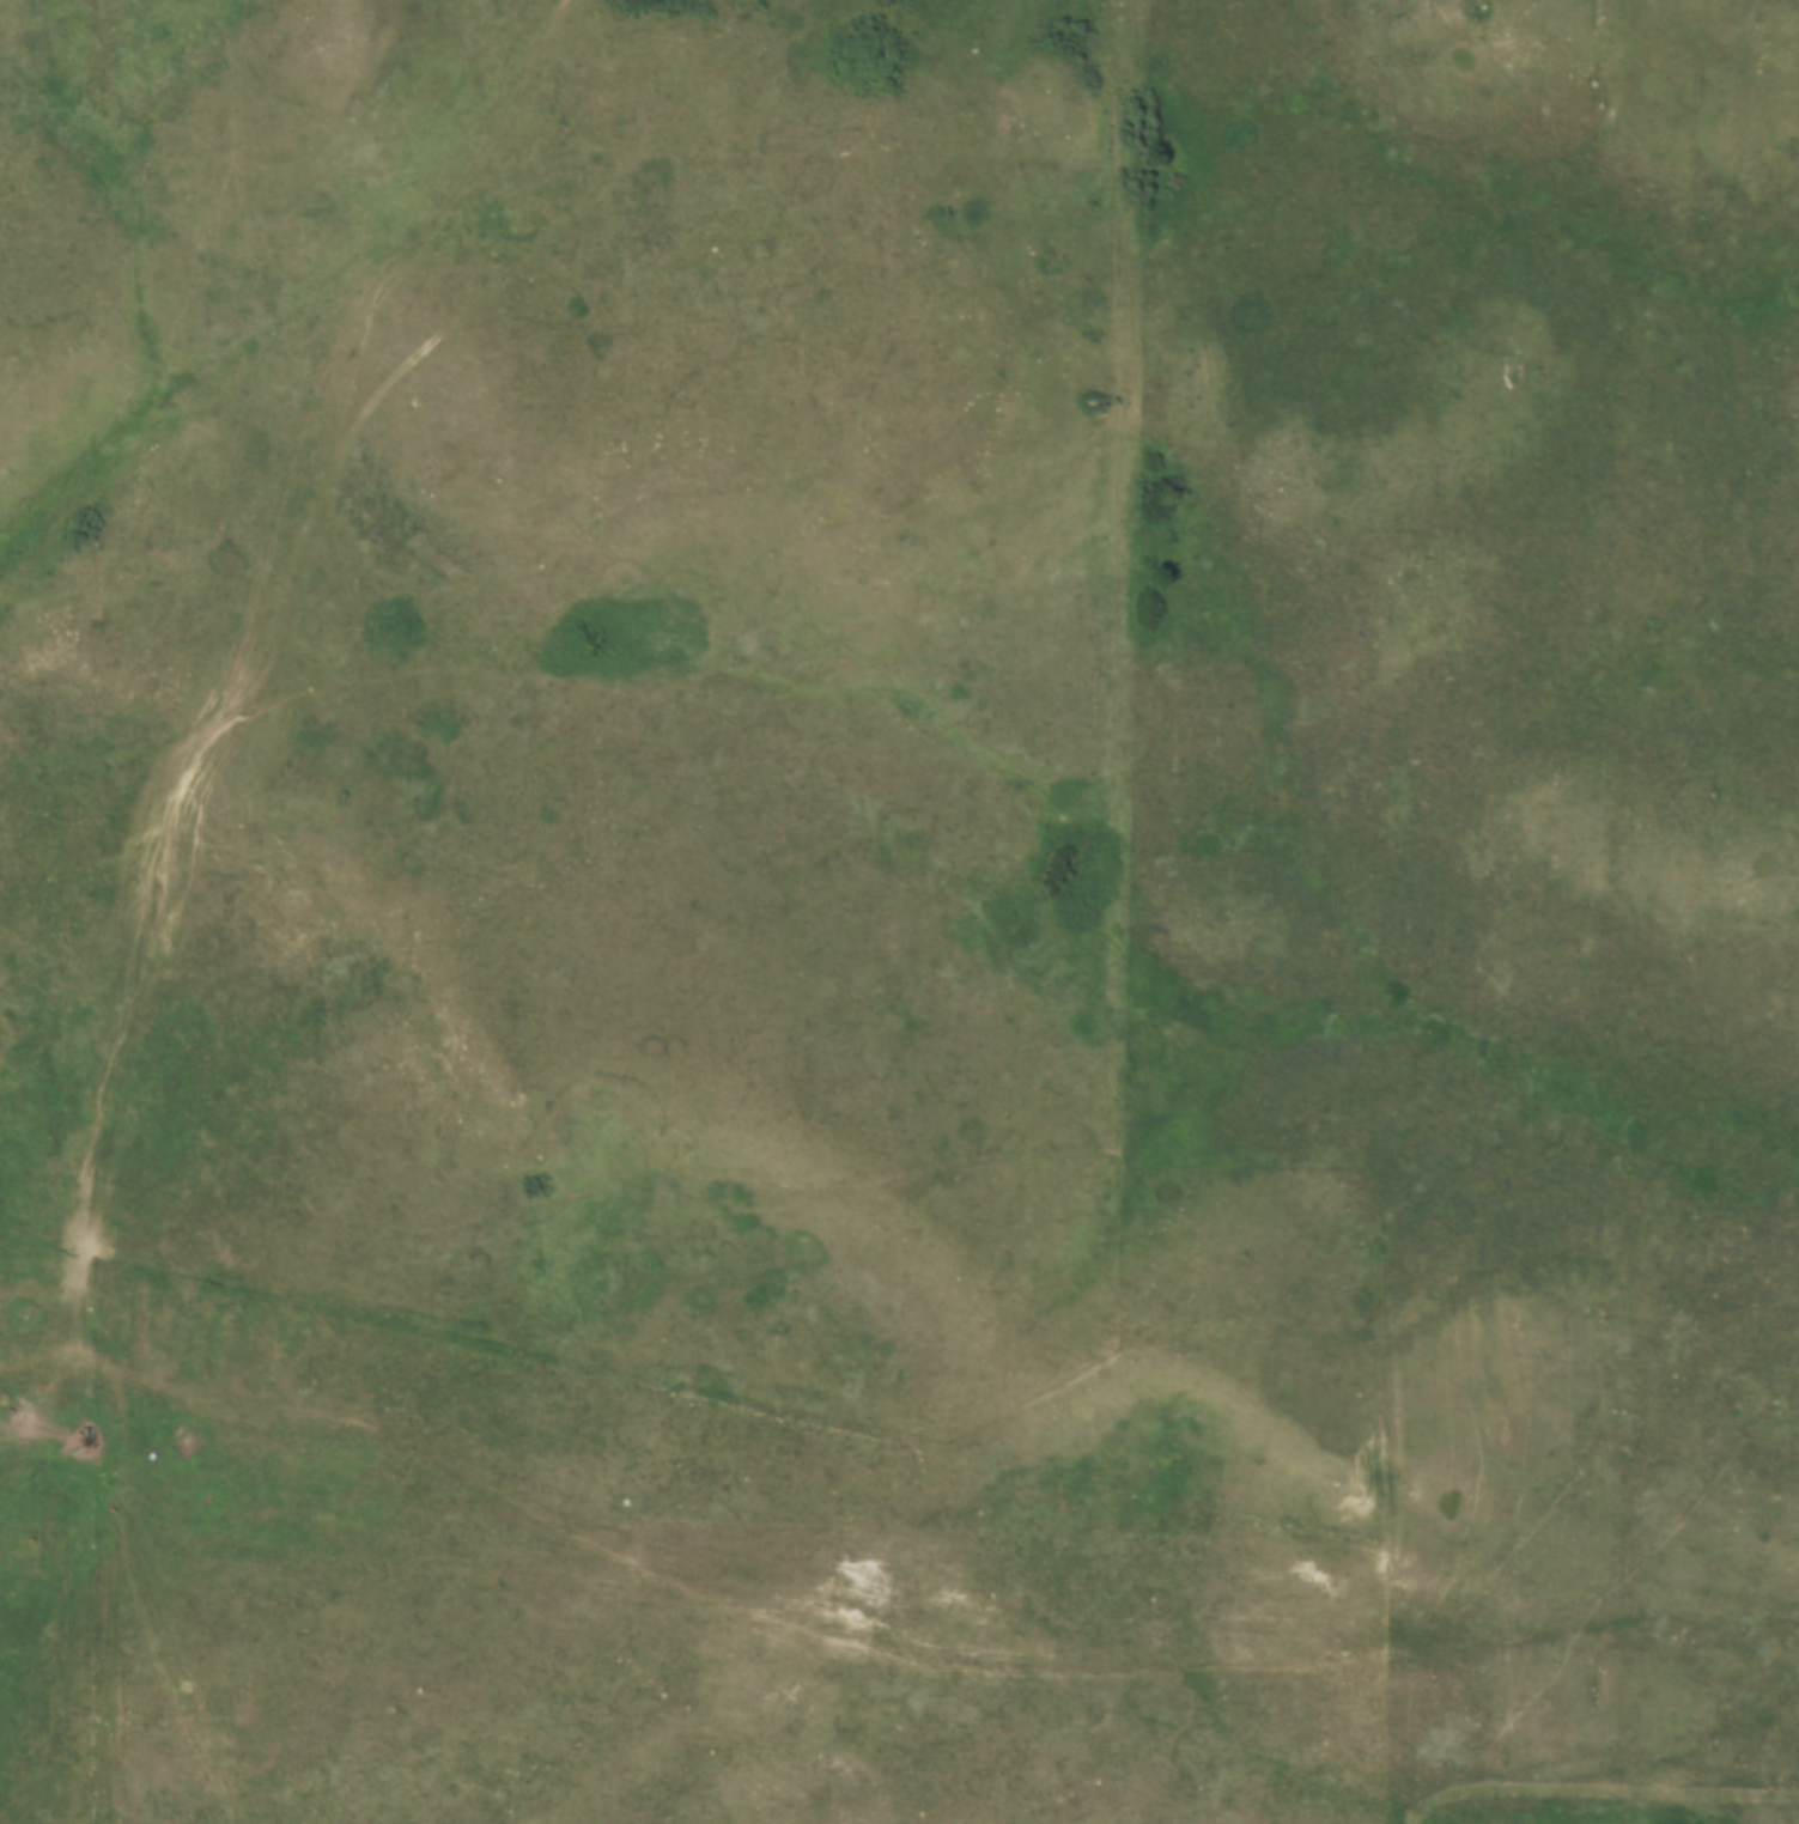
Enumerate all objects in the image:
road: (43, 1362)
road: (215, 1396)
road: (118, 1591)

